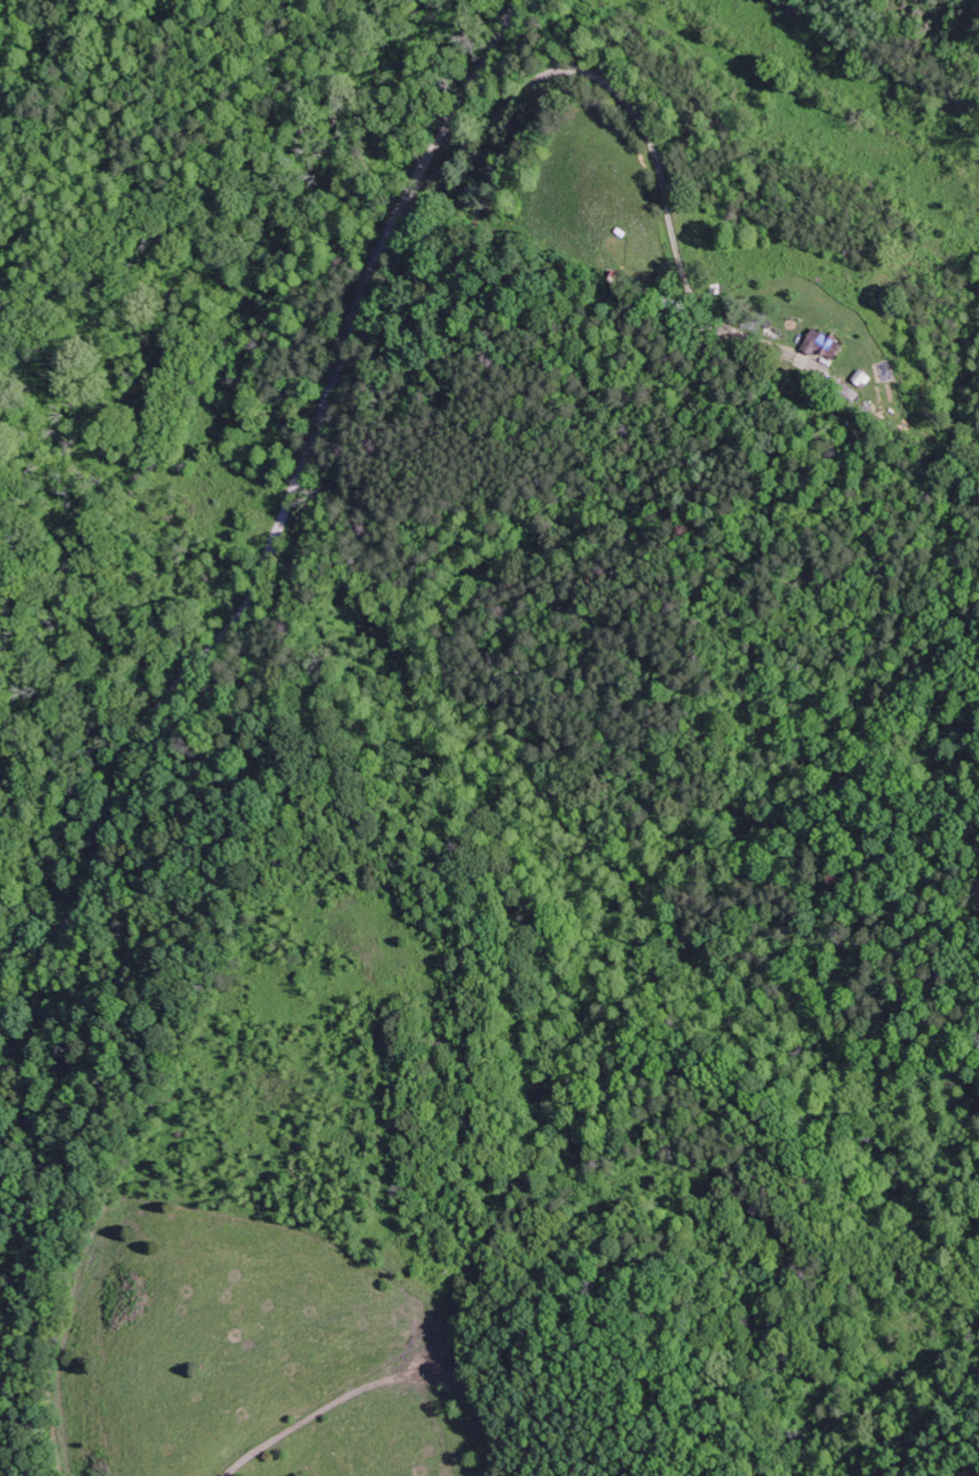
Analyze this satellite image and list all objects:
road: (878, 59)
building: (863, 378)
road: (279, 531)

